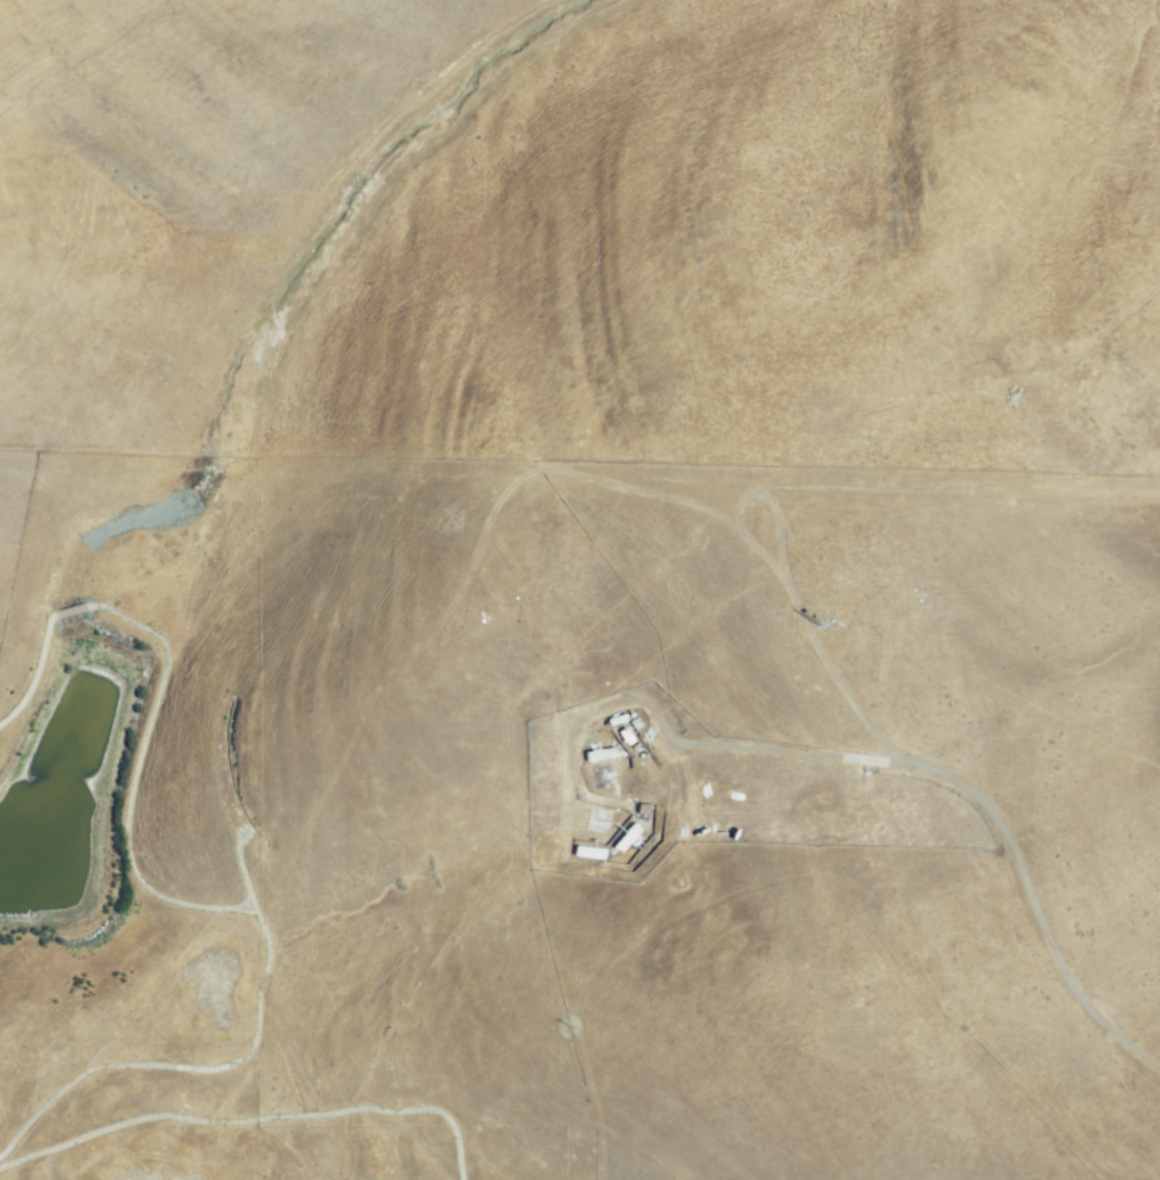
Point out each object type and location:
road: (980, 801)
building: (595, 820)
building: (625, 838)
road: (255, 1130)

